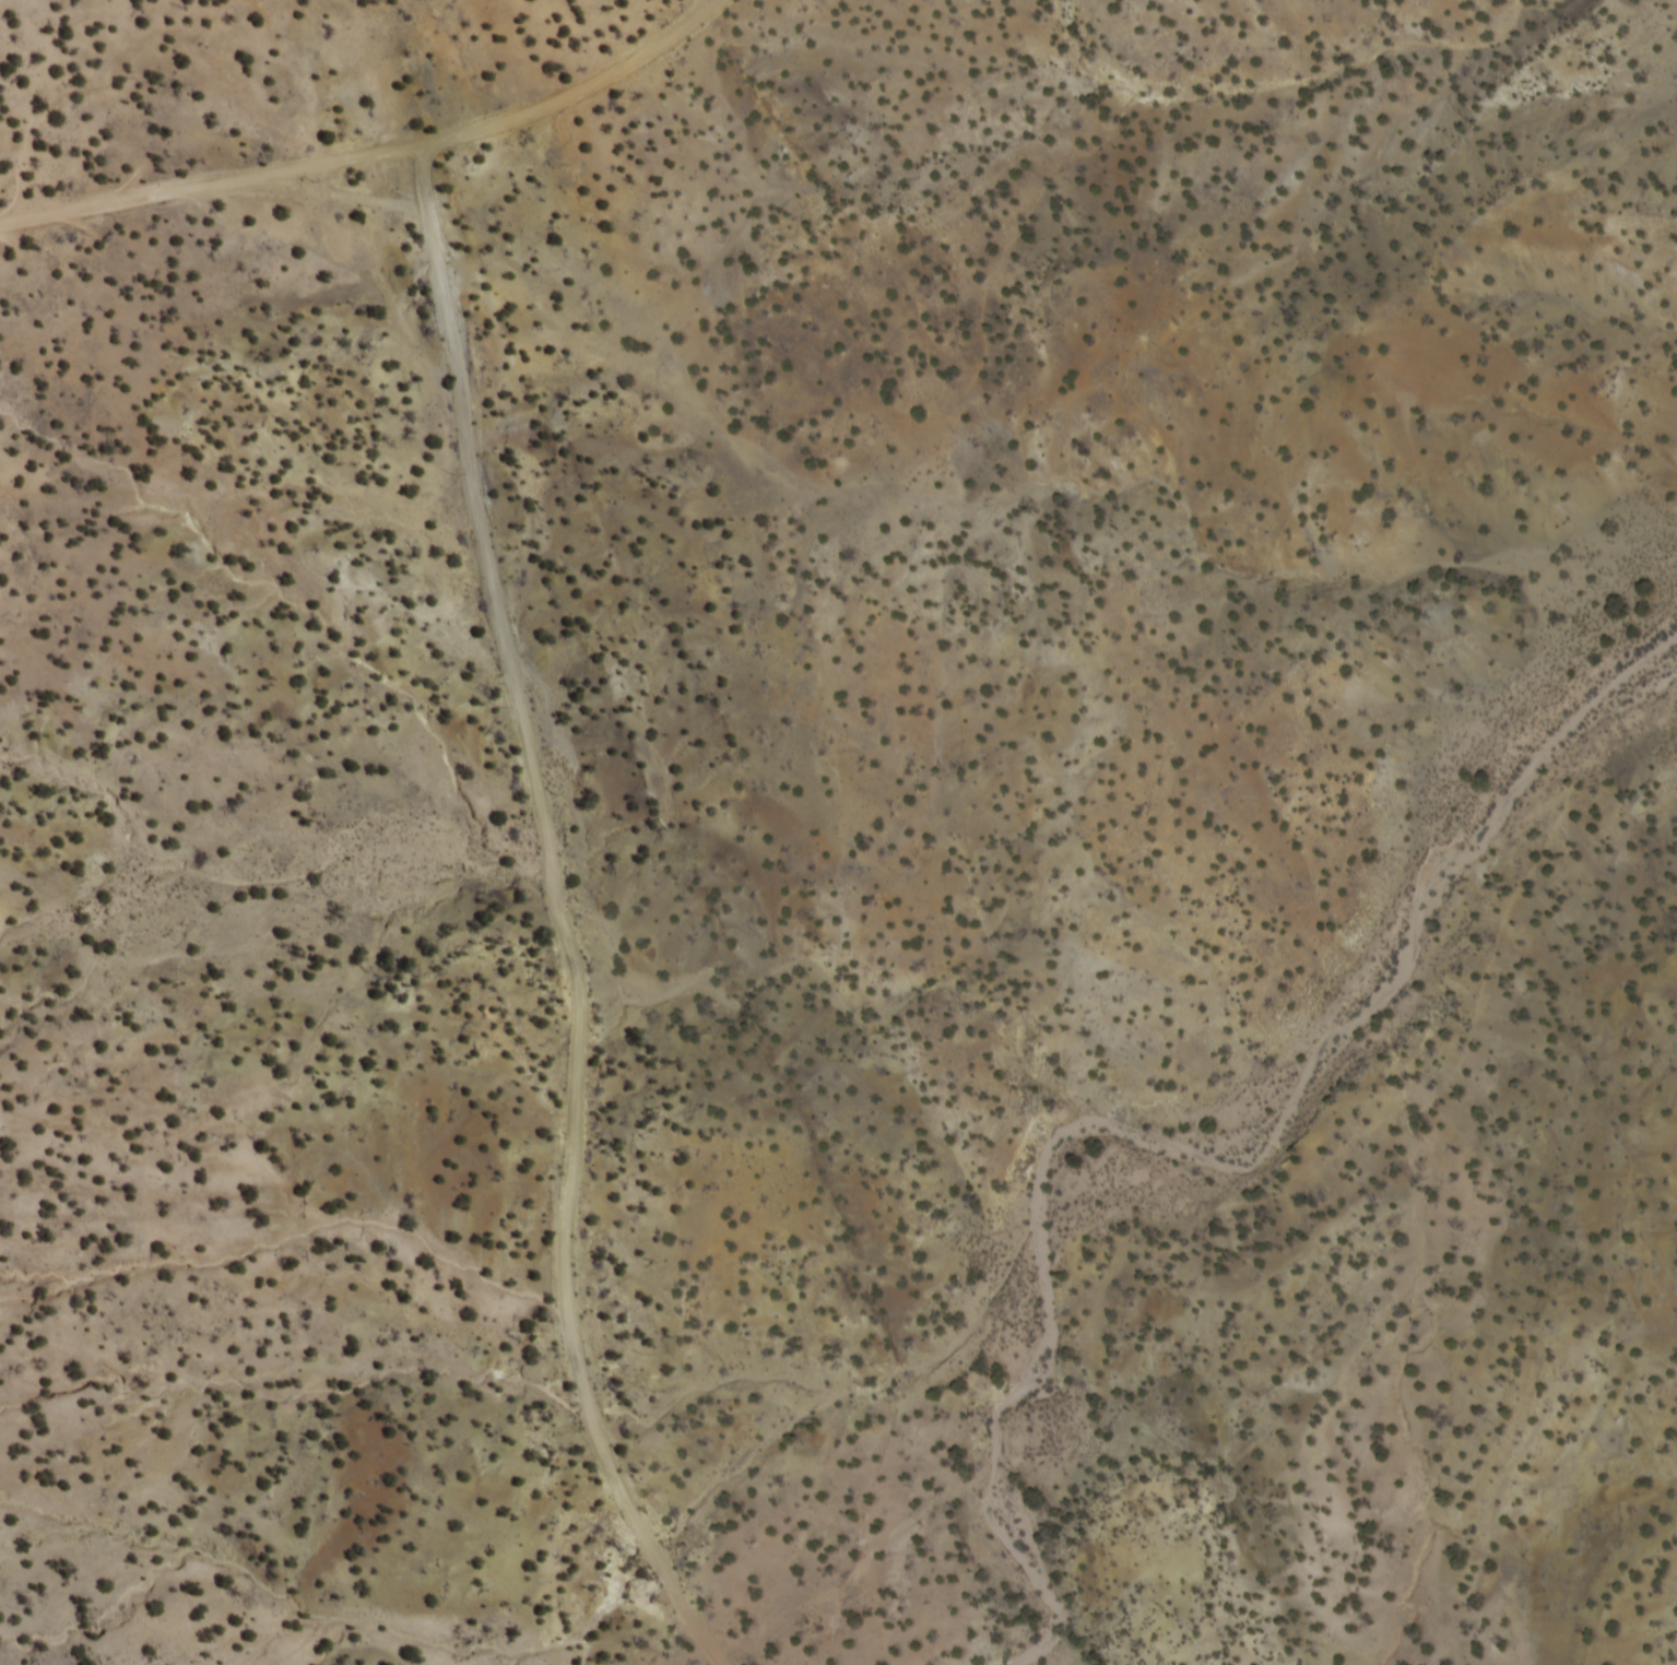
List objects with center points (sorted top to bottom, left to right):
road: (371, 146)
road: (522, 916)

